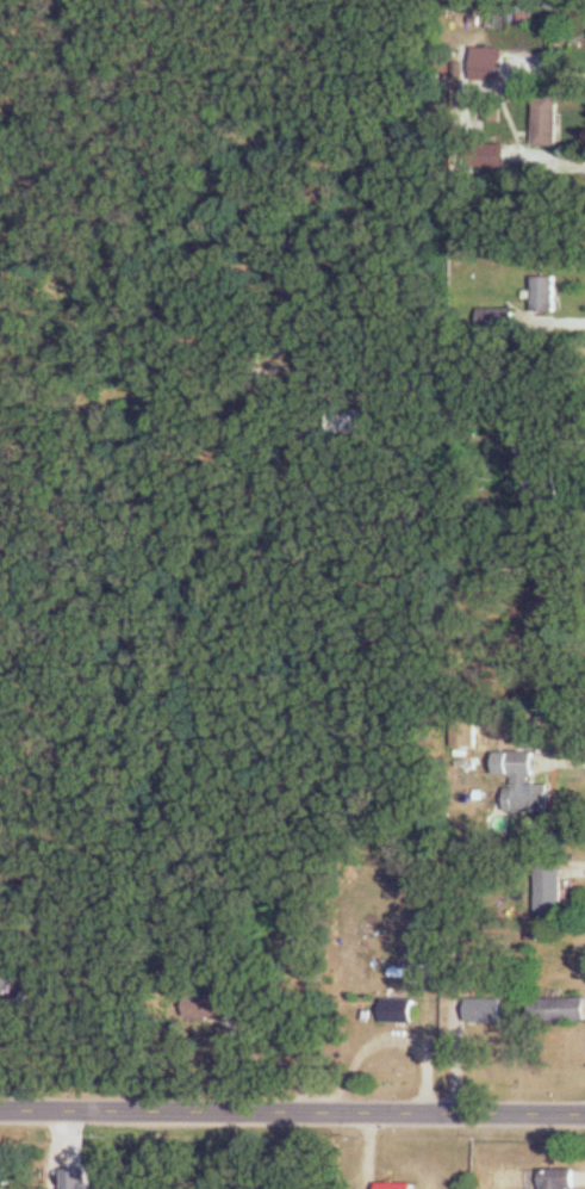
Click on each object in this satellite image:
building: (487, 62)
road: (474, 118)
building: (546, 118)
building: (544, 292)
building: (497, 317)
building: (346, 420)
building: (539, 471)
building: (543, 613)
building: (524, 785)
building: (547, 885)
building: (5, 980)
building: (218, 1004)
building: (558, 1008)
building: (398, 1009)
building: (485, 1009)
road: (292, 1111)
building: (558, 1177)
building: (396, 1185)

